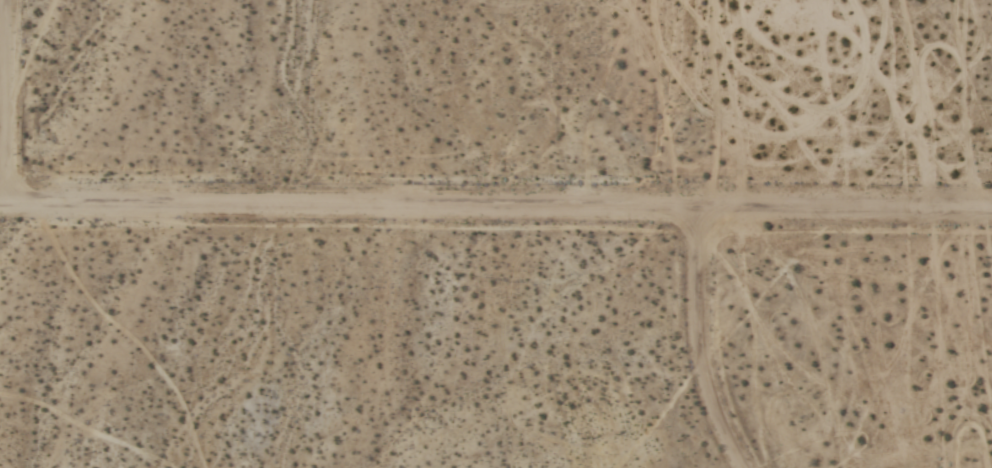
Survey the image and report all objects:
road: (2, 59)
road: (348, 205)
road: (844, 207)
road: (698, 342)

